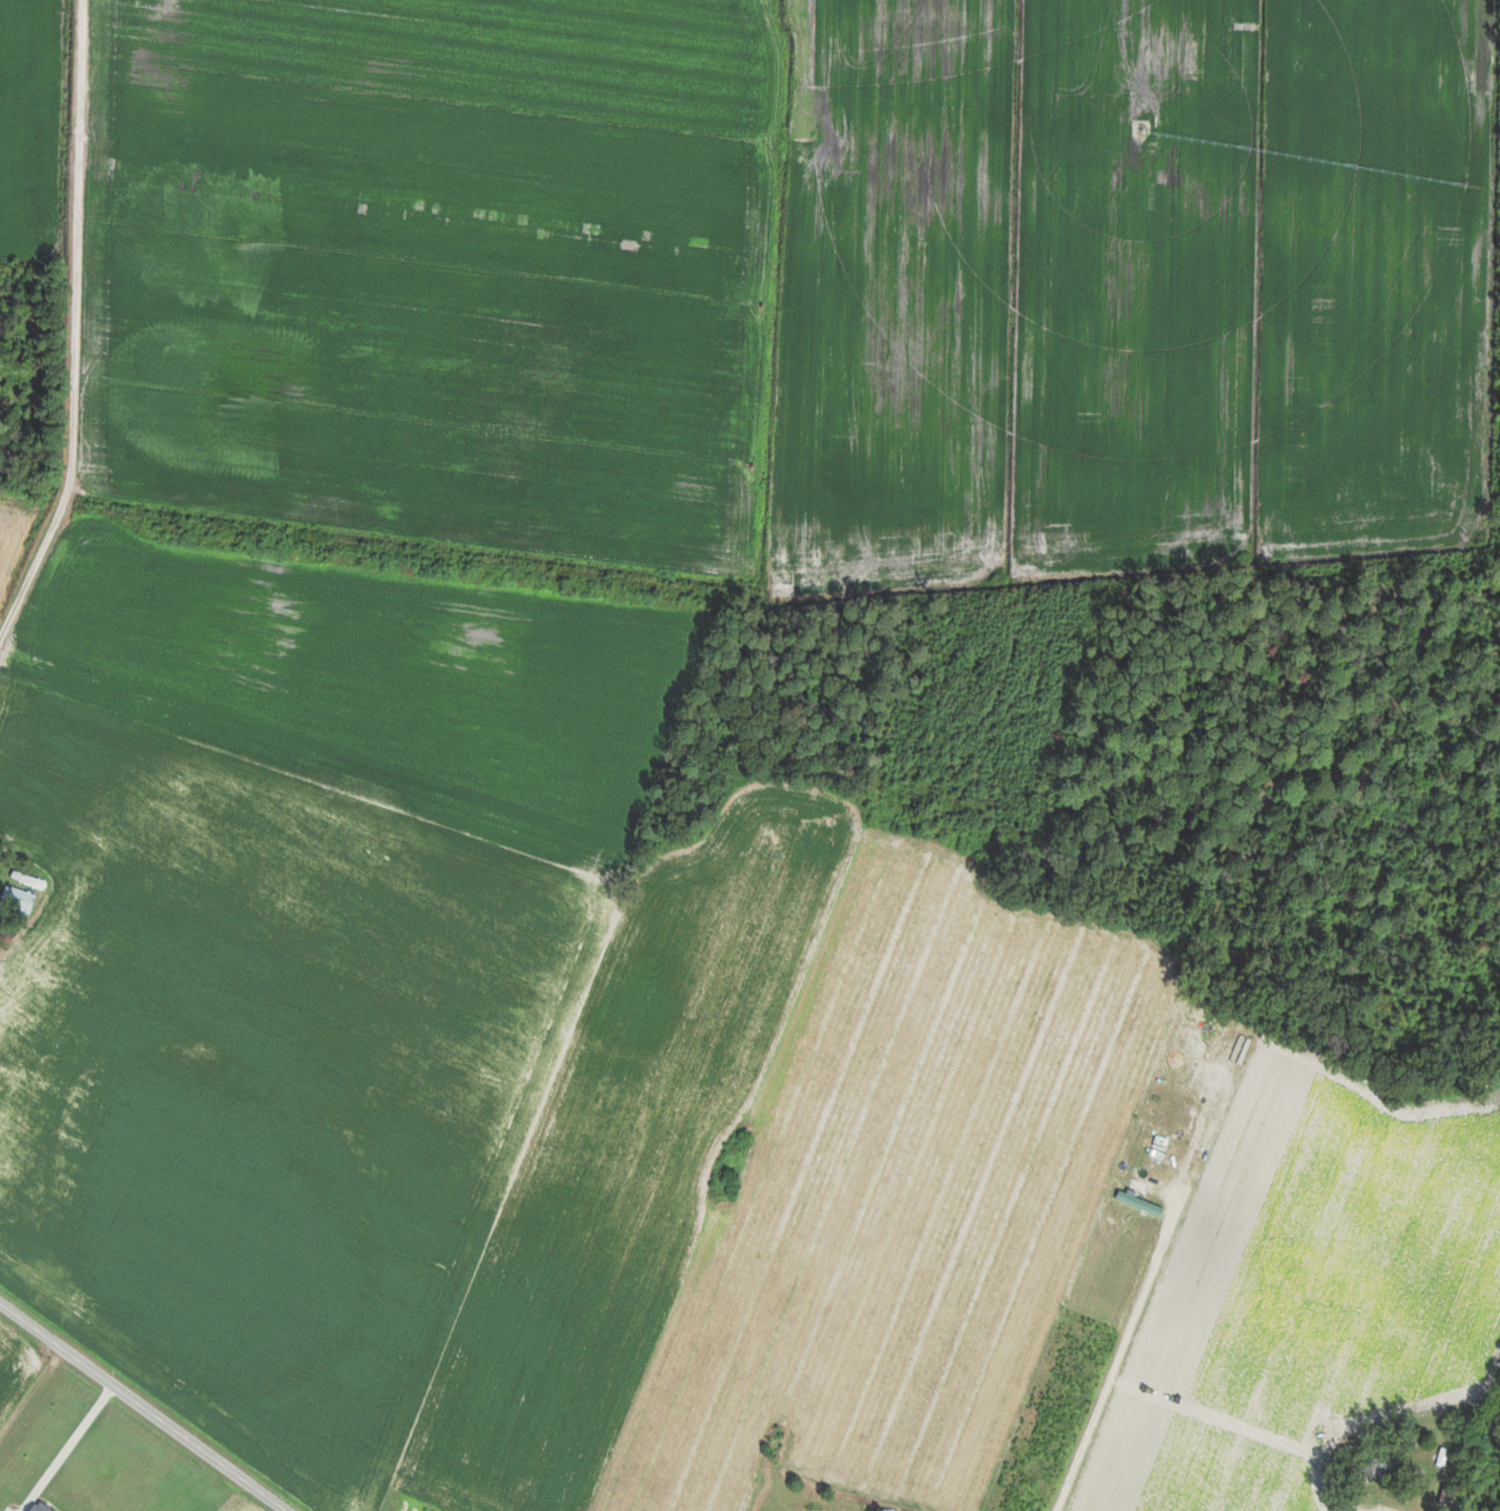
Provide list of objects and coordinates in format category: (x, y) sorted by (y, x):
crop: (26, 122)
crop: (435, 267)
building: (17, 901)
road: (146, 1405)
road: (1470, 1444)
building: (1383, 1467)

